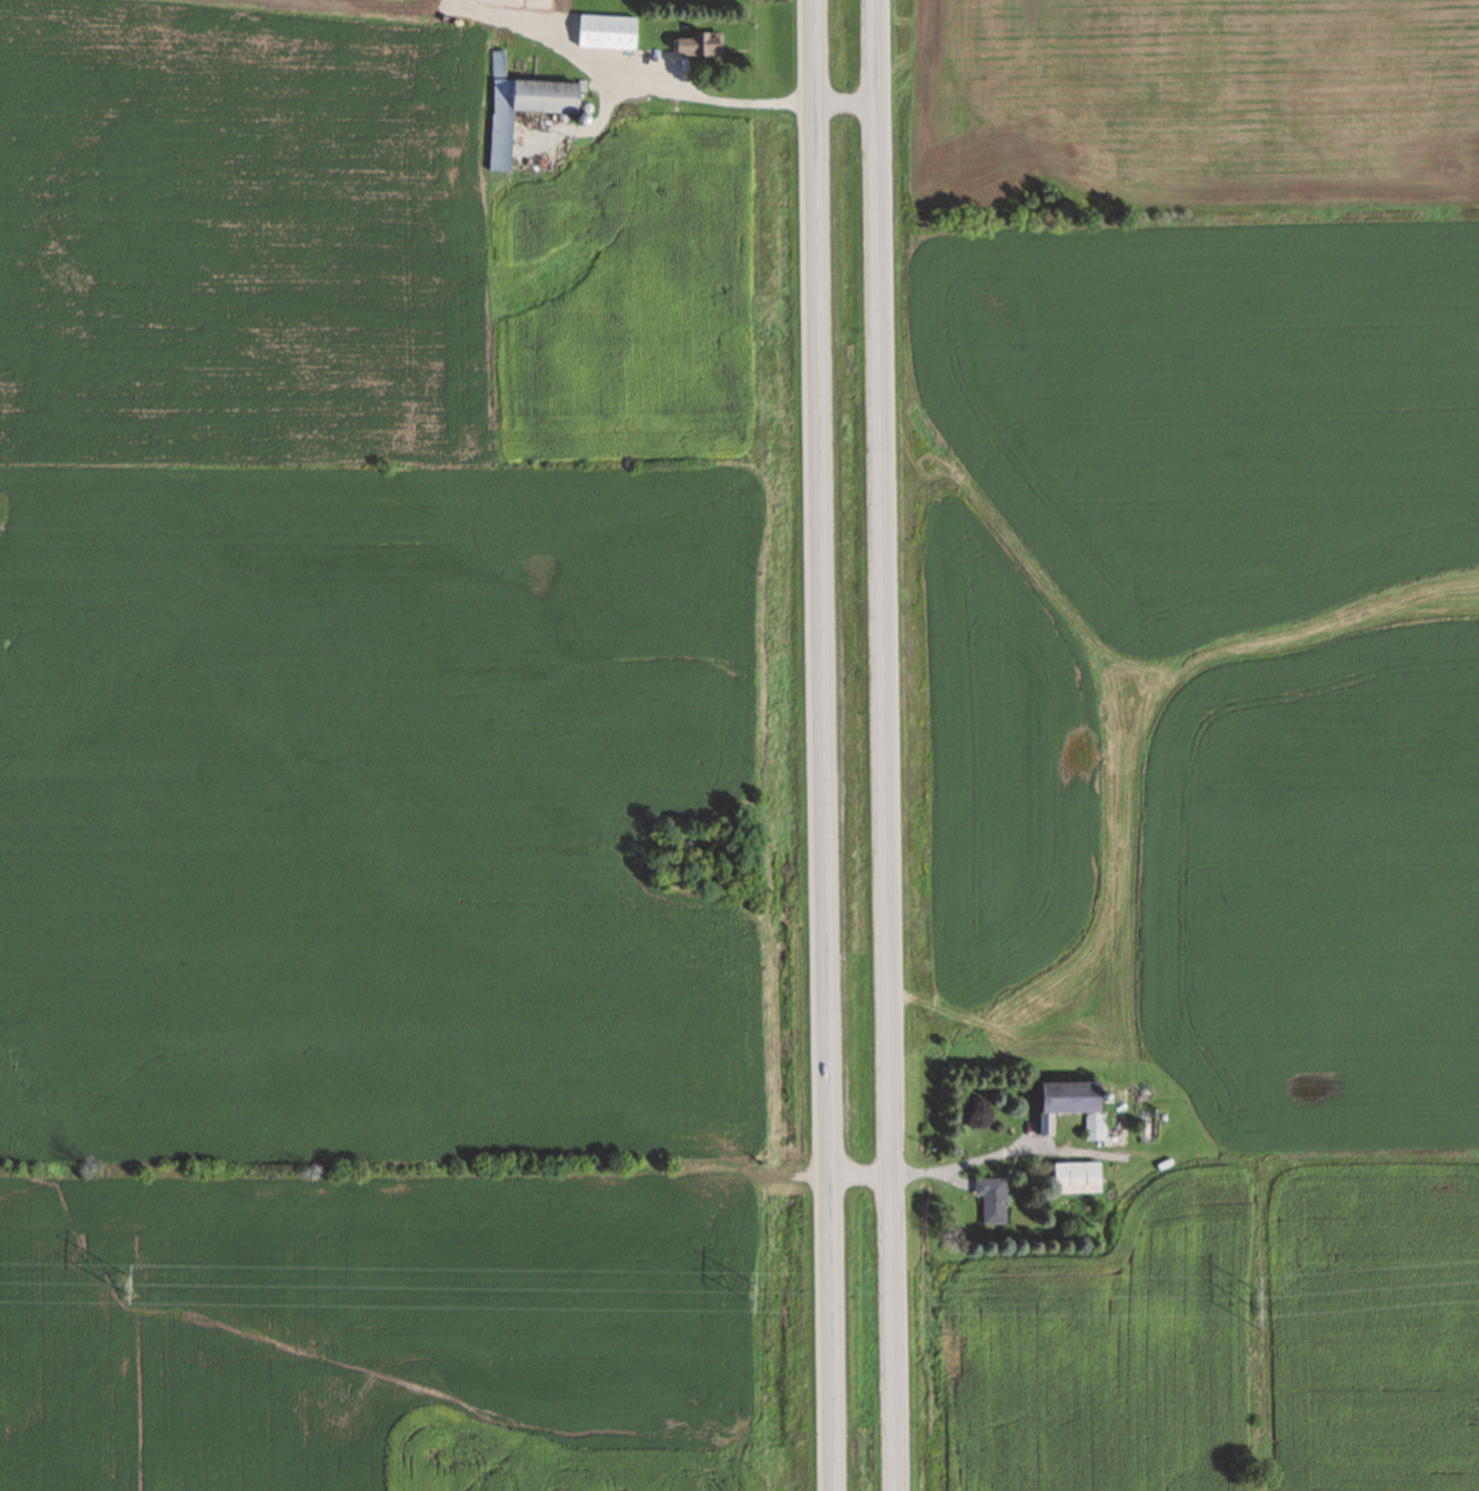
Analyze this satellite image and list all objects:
building: (605, 32)
building: (699, 44)
building: (520, 107)
road: (824, 745)
road: (883, 745)
building: (1070, 1105)
building: (1075, 1176)
building: (991, 1198)
power tower: (125, 1281)
power tower: (750, 1289)
power tower: (1260, 1307)

